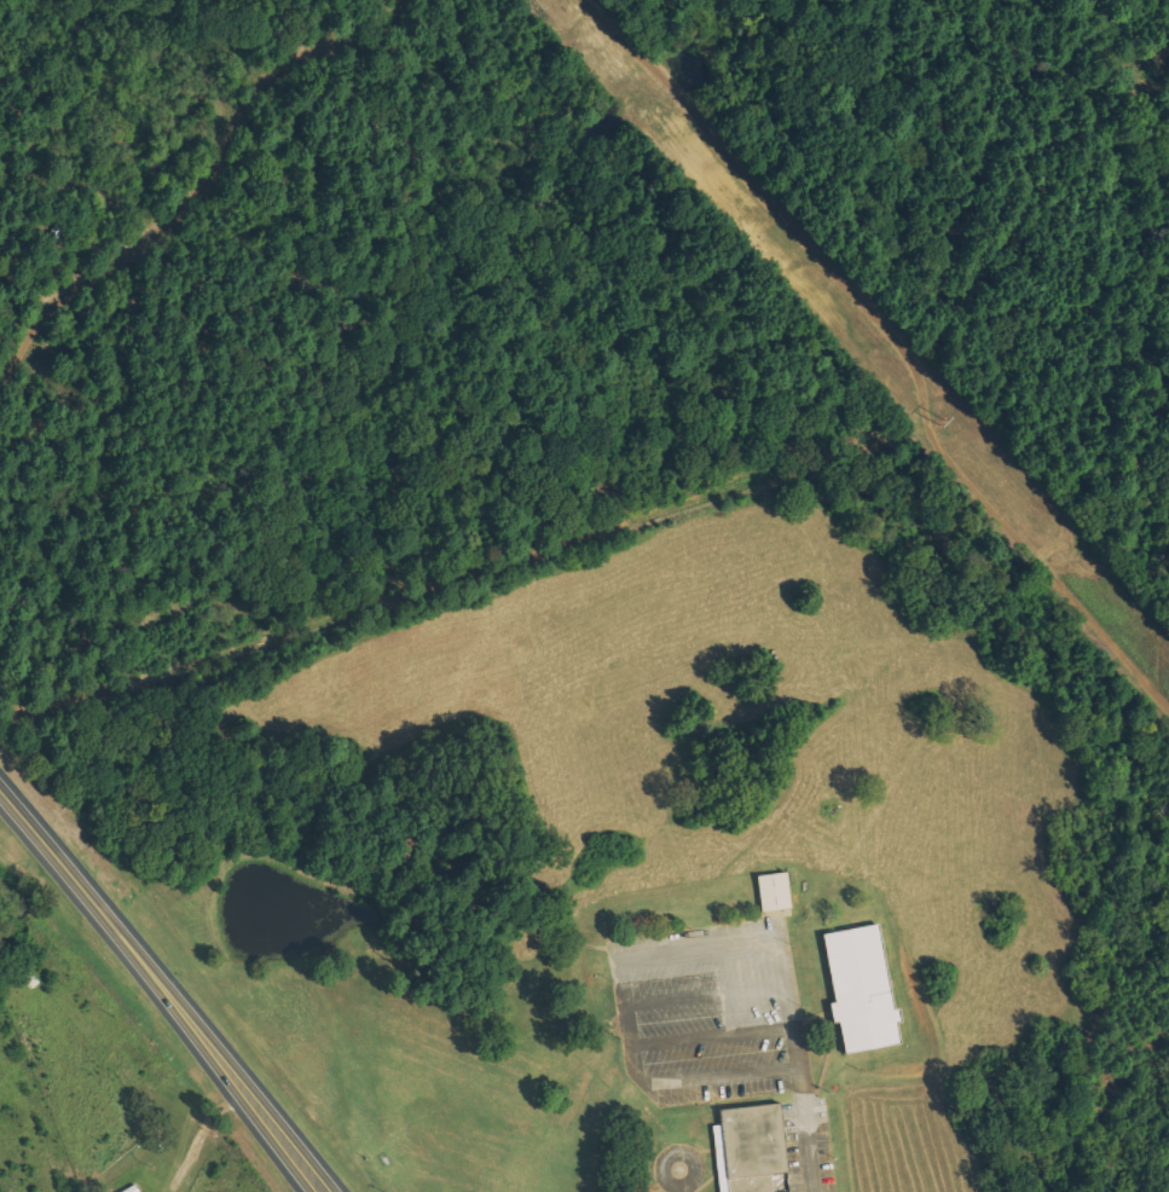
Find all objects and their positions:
building: (777, 891)
road: (54, 954)
road: (163, 989)
building: (866, 989)
road: (801, 1119)
building: (754, 1150)
road: (681, 1184)

